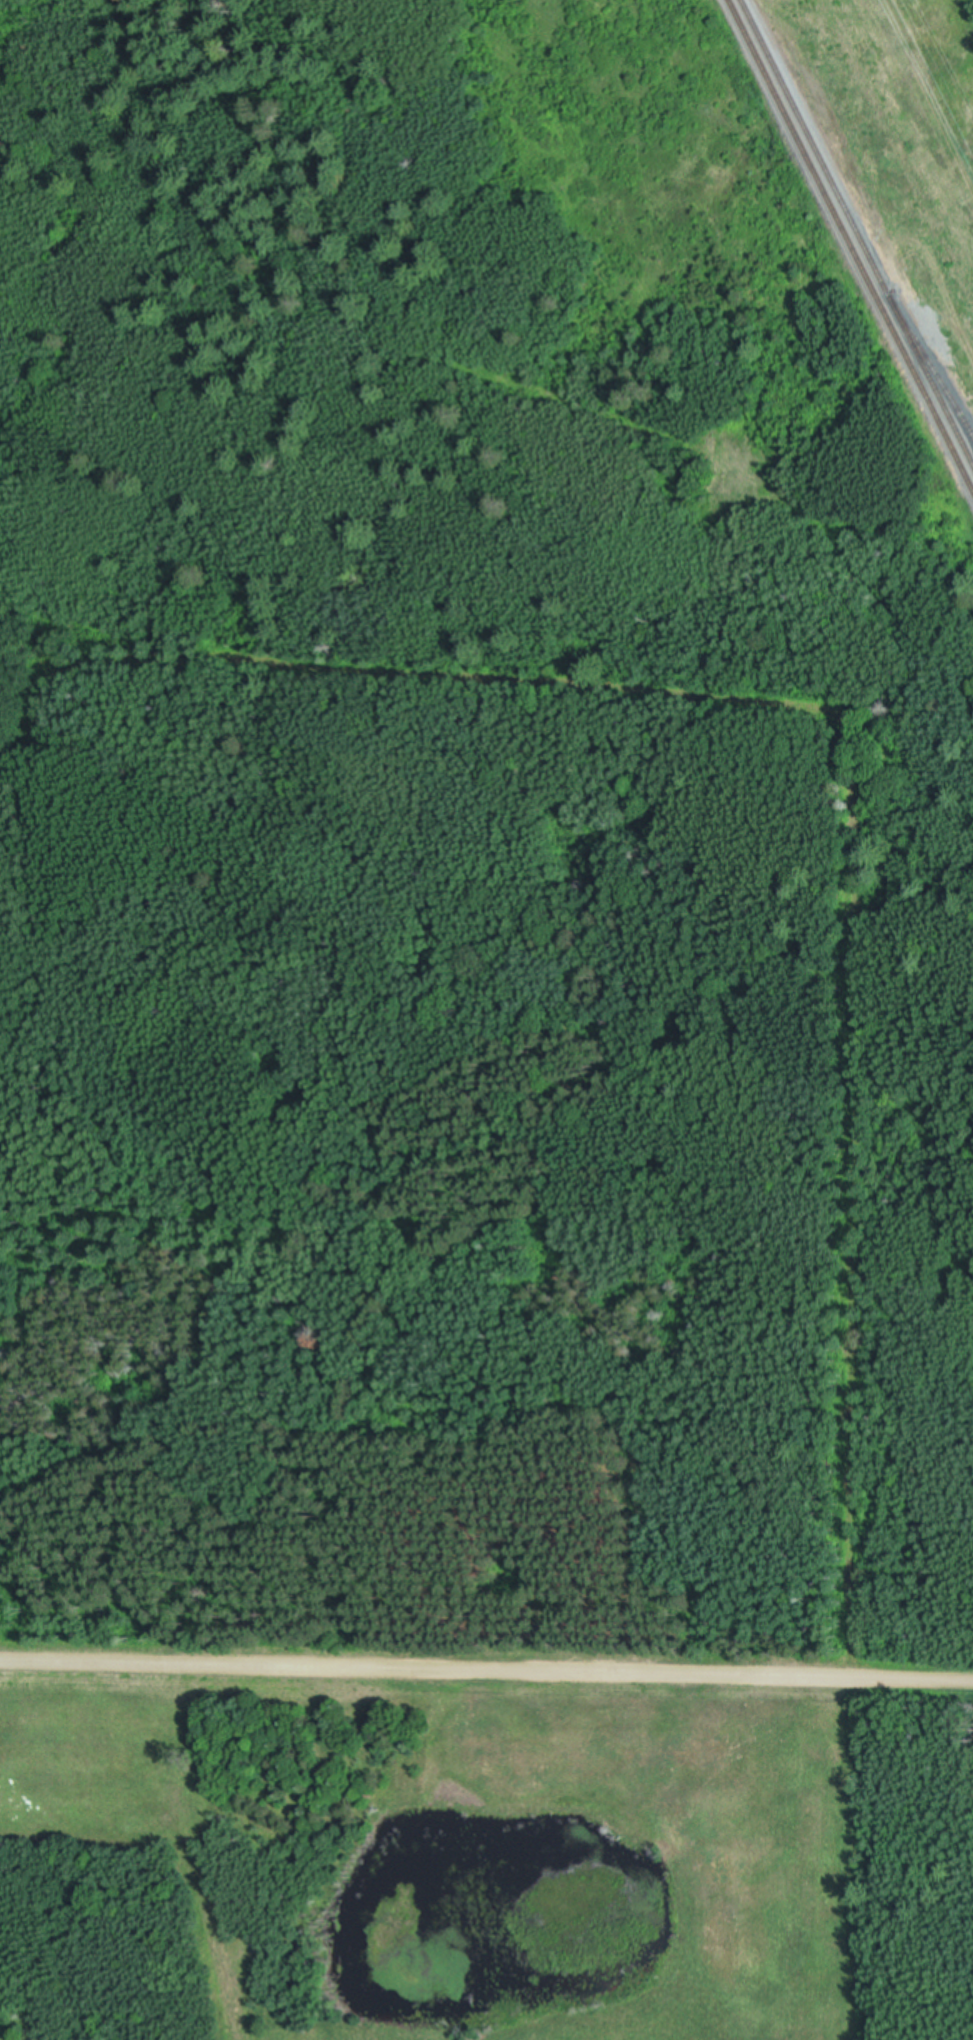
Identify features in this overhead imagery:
railway: (858, 229)
railway: (849, 247)
road: (486, 1670)

